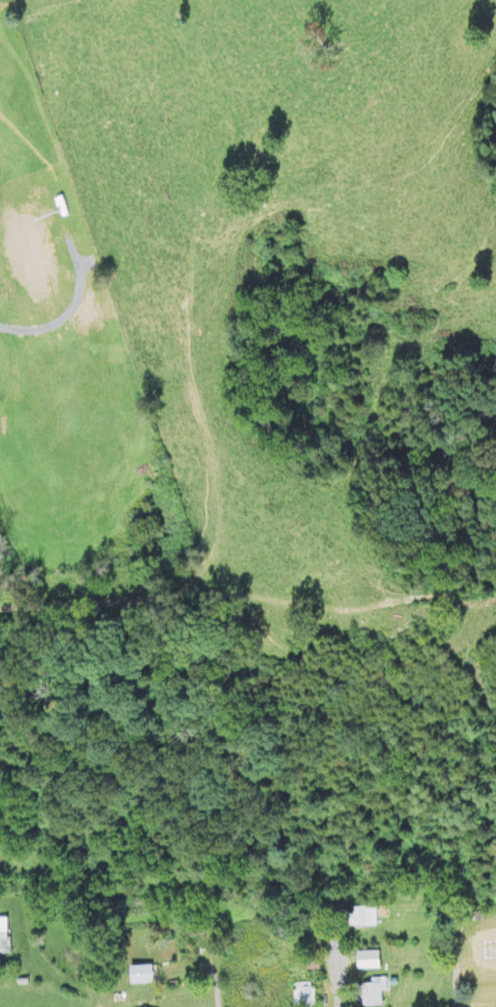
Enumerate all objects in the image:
building: (362, 917)
building: (2, 936)
road: (335, 952)
building: (487, 953)
building: (365, 961)
building: (139, 975)
road: (454, 977)
road: (215, 984)
building: (370, 993)
building: (302, 995)
road: (103, 1000)

